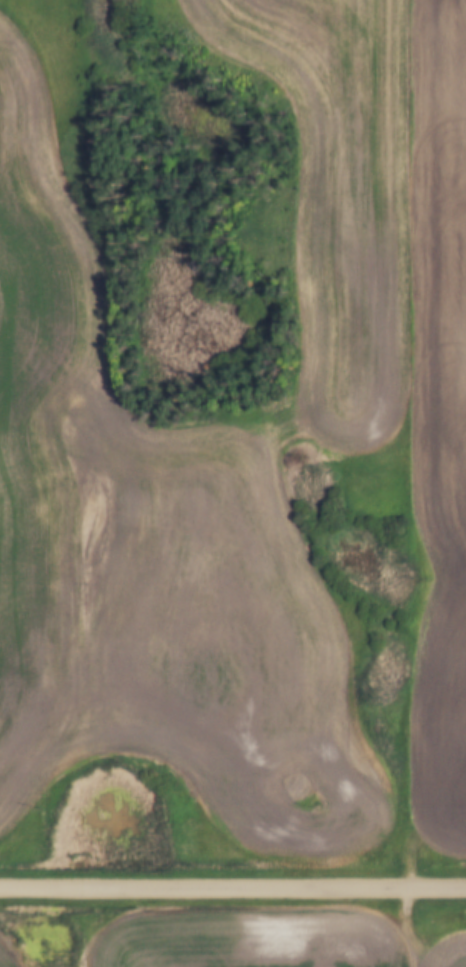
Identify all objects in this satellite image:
road: (233, 885)

